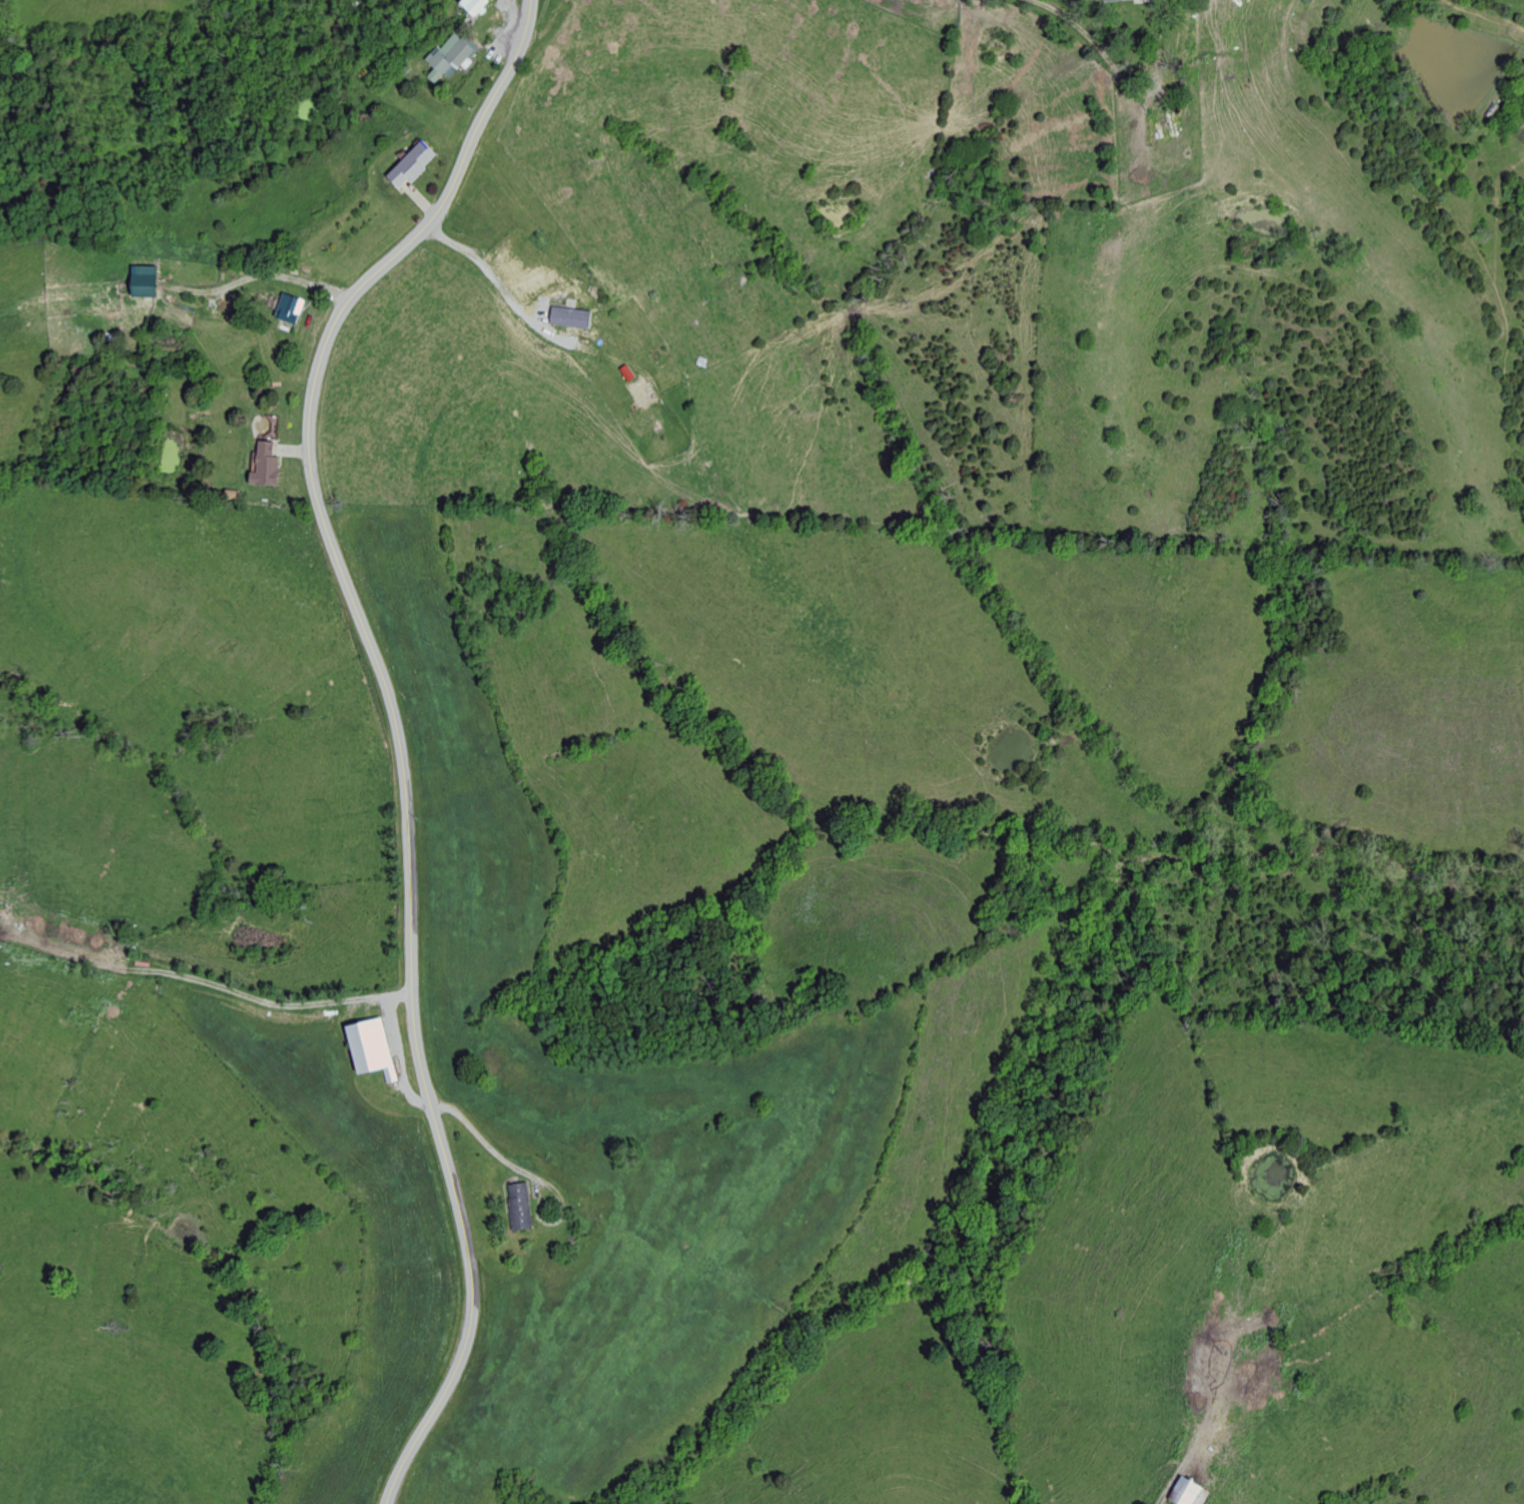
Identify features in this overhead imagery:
building: (449, 57)
building: (410, 163)
road: (494, 269)
building: (140, 279)
building: (289, 307)
building: (569, 316)
building: (642, 390)
building: (263, 464)
road: (397, 725)
road: (212, 982)
building: (368, 1046)
road: (399, 1056)
road: (486, 1141)
building: (519, 1205)

